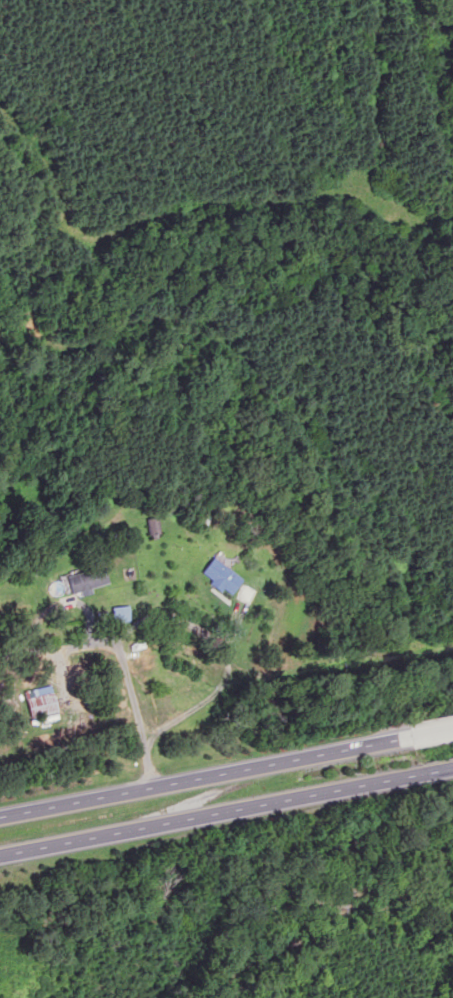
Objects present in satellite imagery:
building: (220, 577)
building: (85, 582)
building: (119, 616)
building: (40, 707)
road: (431, 732)
road: (439, 770)
road: (205, 776)
road: (212, 814)

